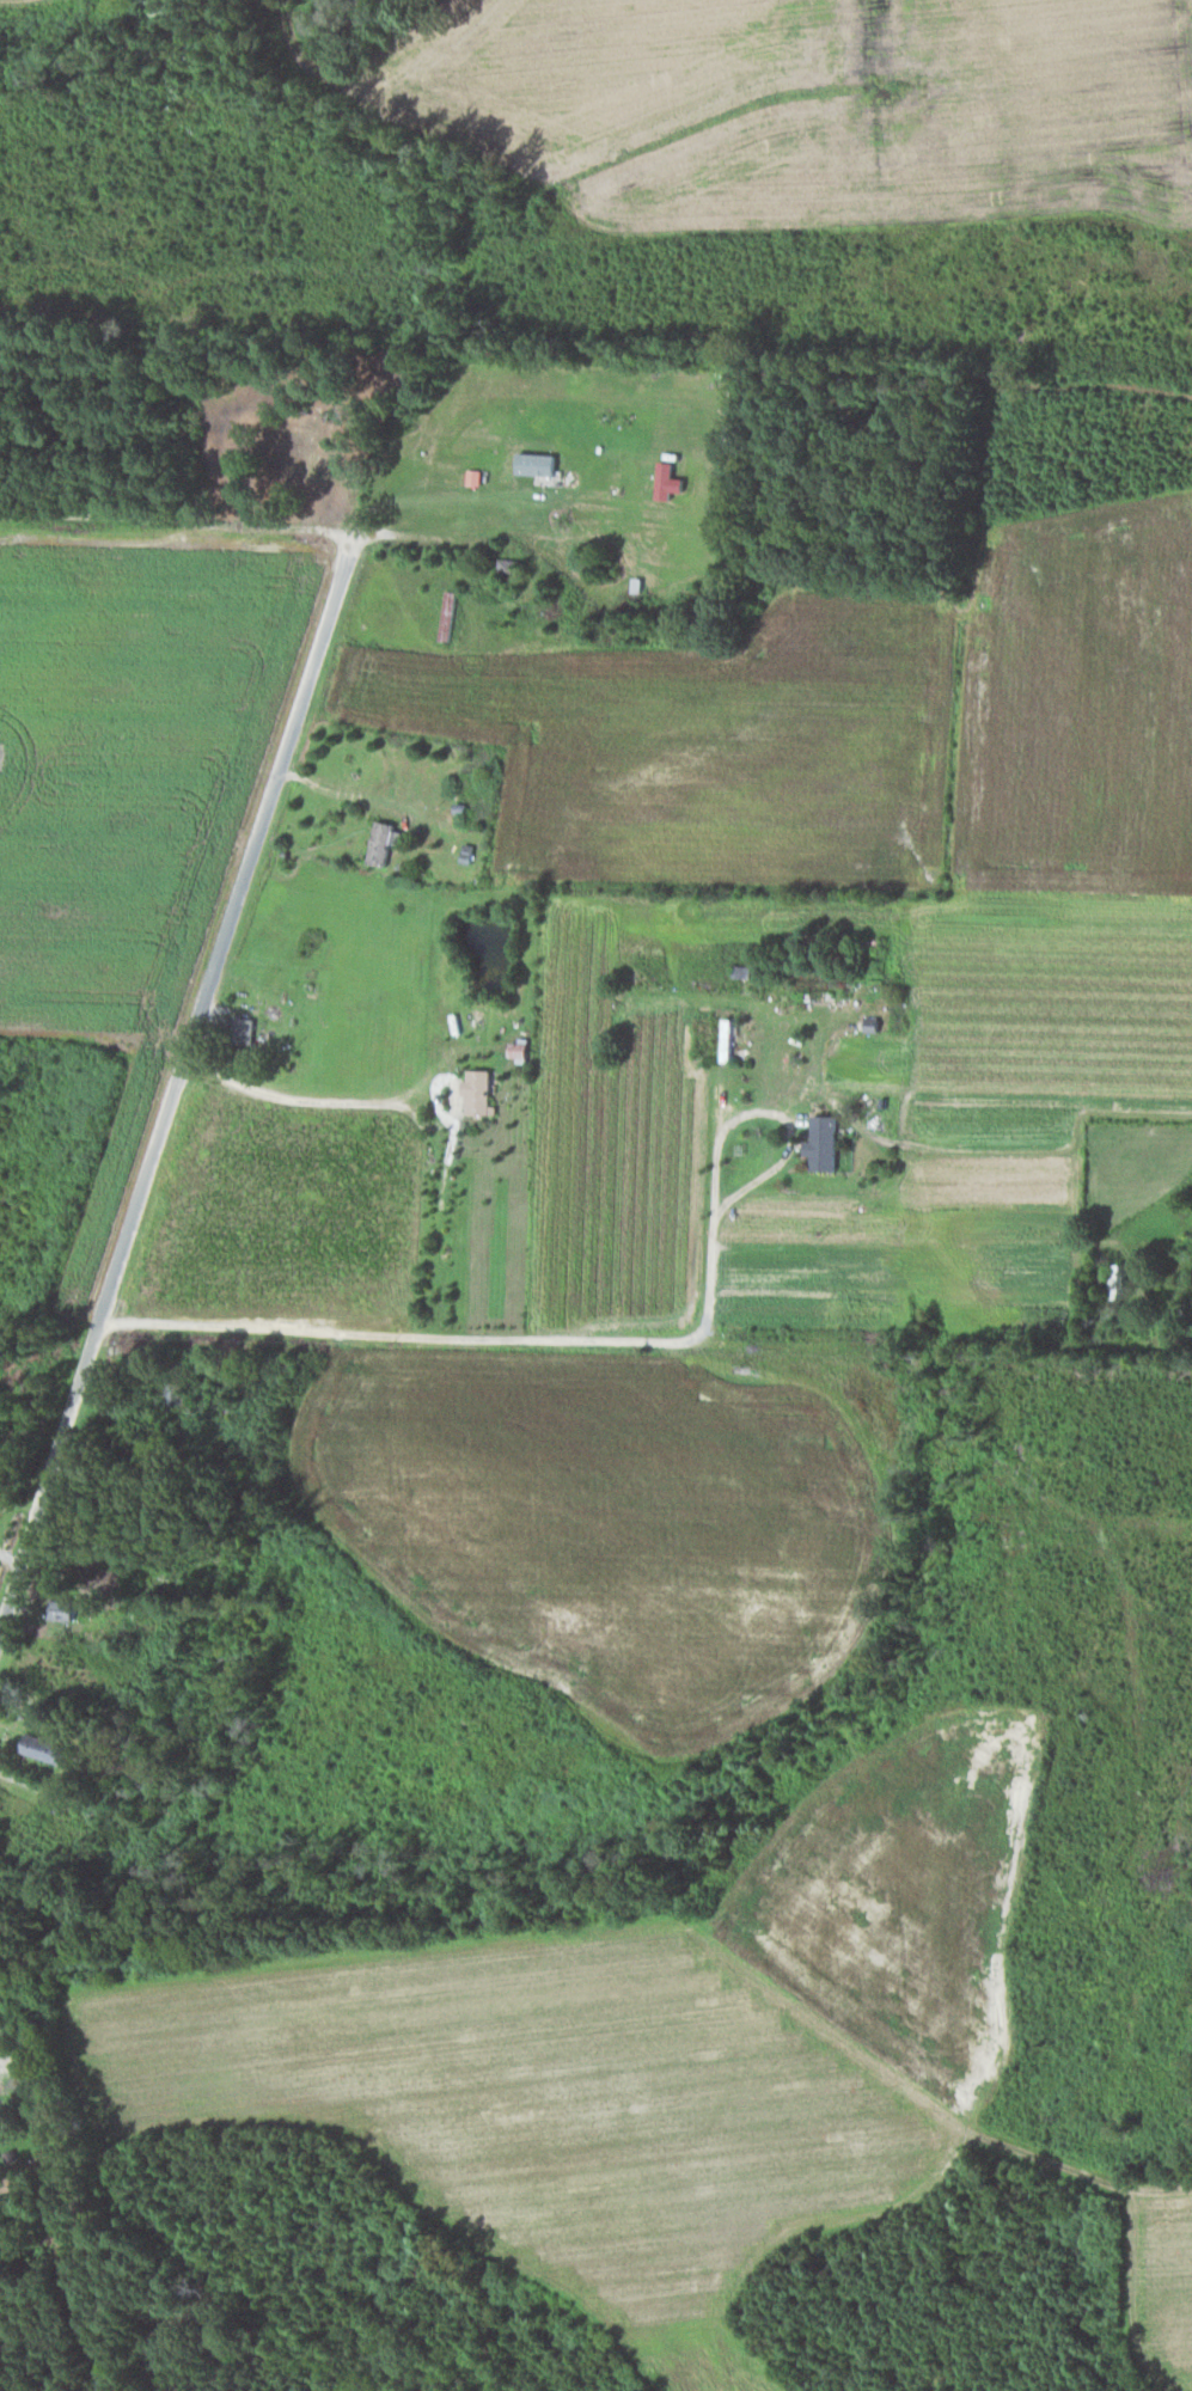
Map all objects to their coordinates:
building: (540, 463)
building: (476, 476)
building: (671, 481)
building: (451, 614)
building: (384, 842)
building: (875, 1022)
building: (247, 1028)
building: (522, 1048)
road: (179, 1075)
building: (482, 1089)
road: (298, 1097)
building: (826, 1141)
road: (605, 1340)
building: (66, 1608)
building: (50, 1748)

